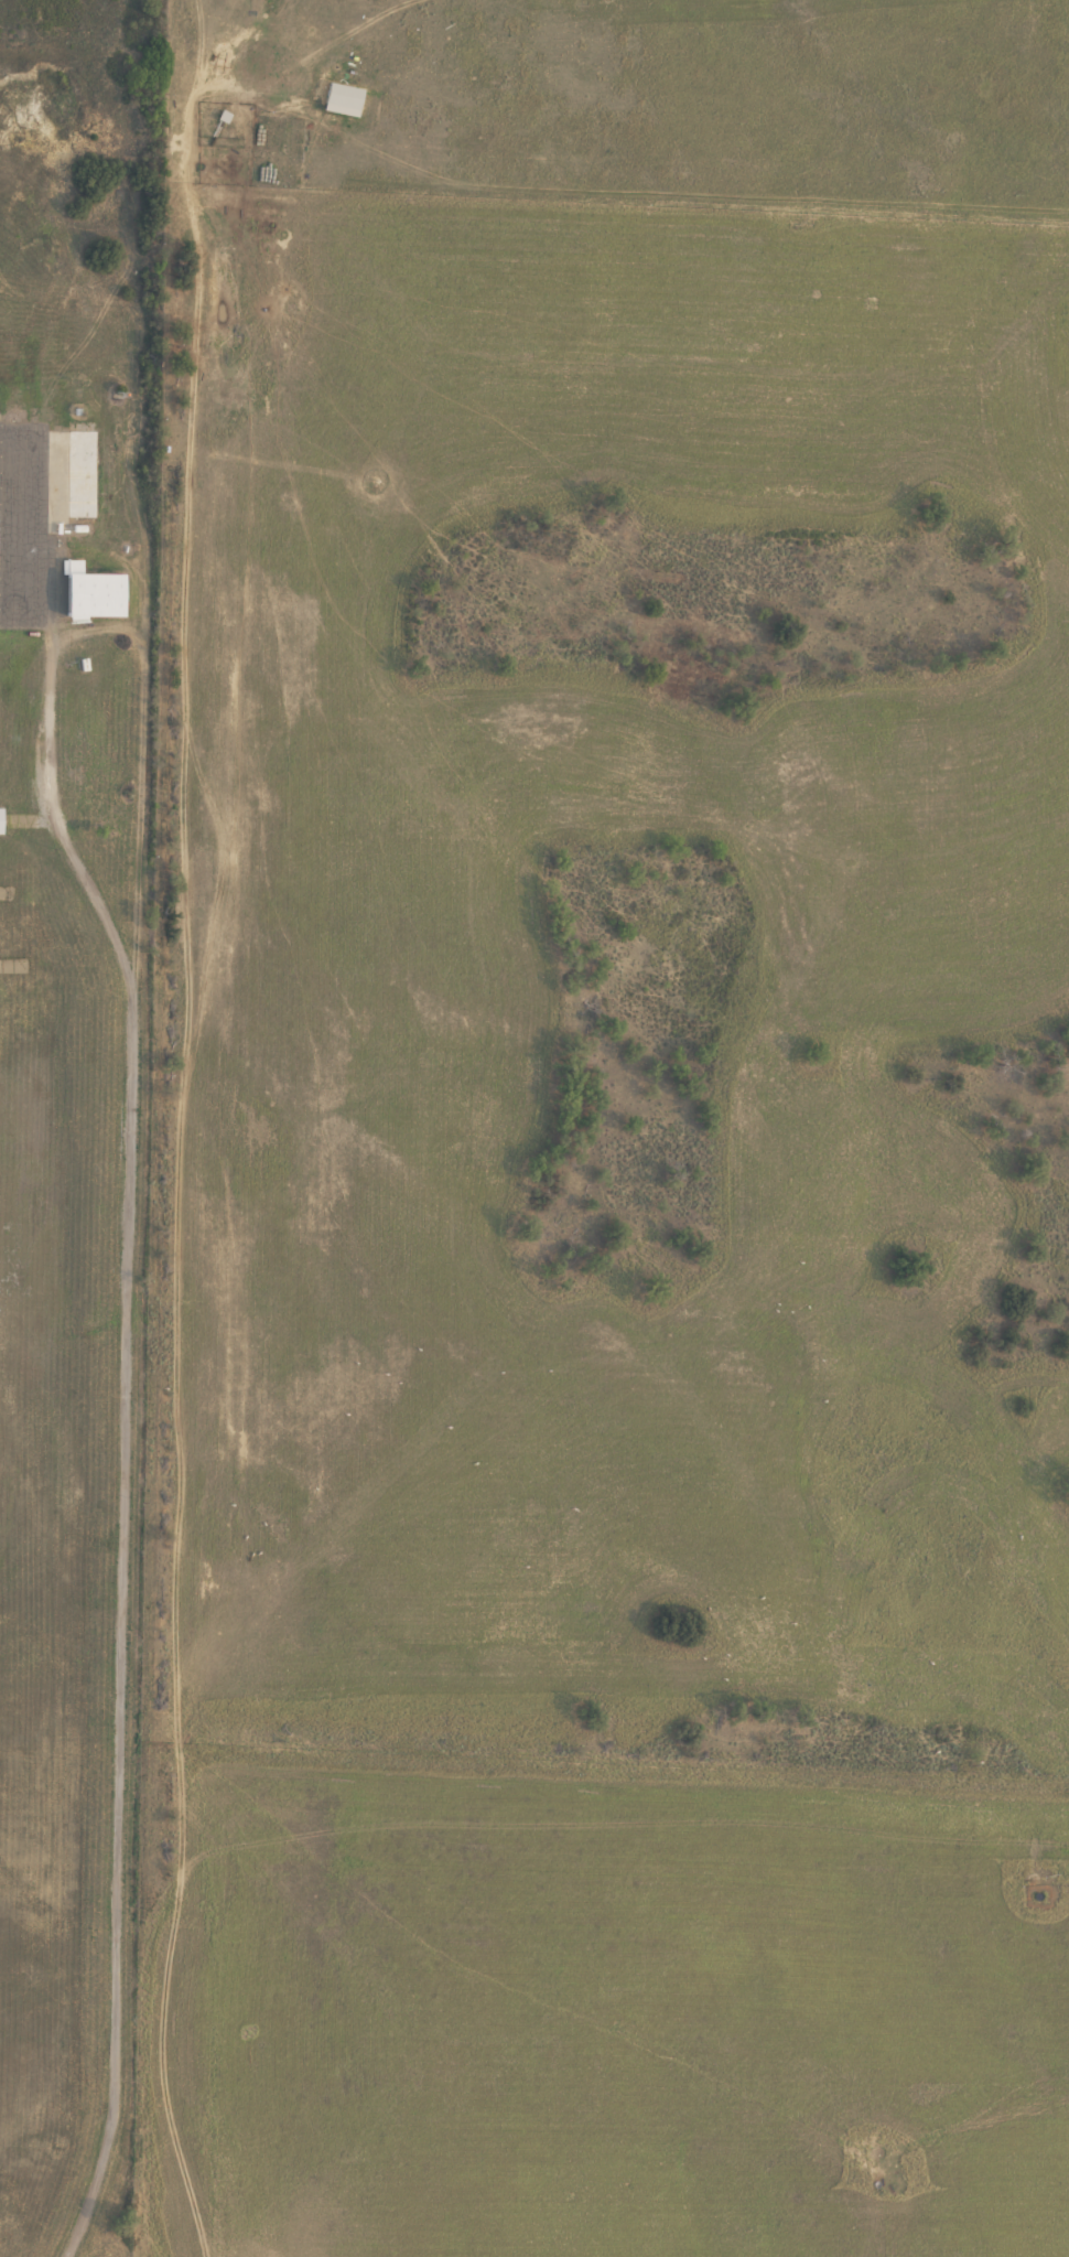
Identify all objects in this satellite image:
airport hangar: (93, 473)
building: (93, 473)
airport apron: (29, 525)
building: (82, 566)
airport hangar: (107, 592)
building: (107, 592)
road: (98, 633)
airport hangar: (6, 821)
building: (6, 821)
airport: (71, 1103)
road: (125, 1616)

